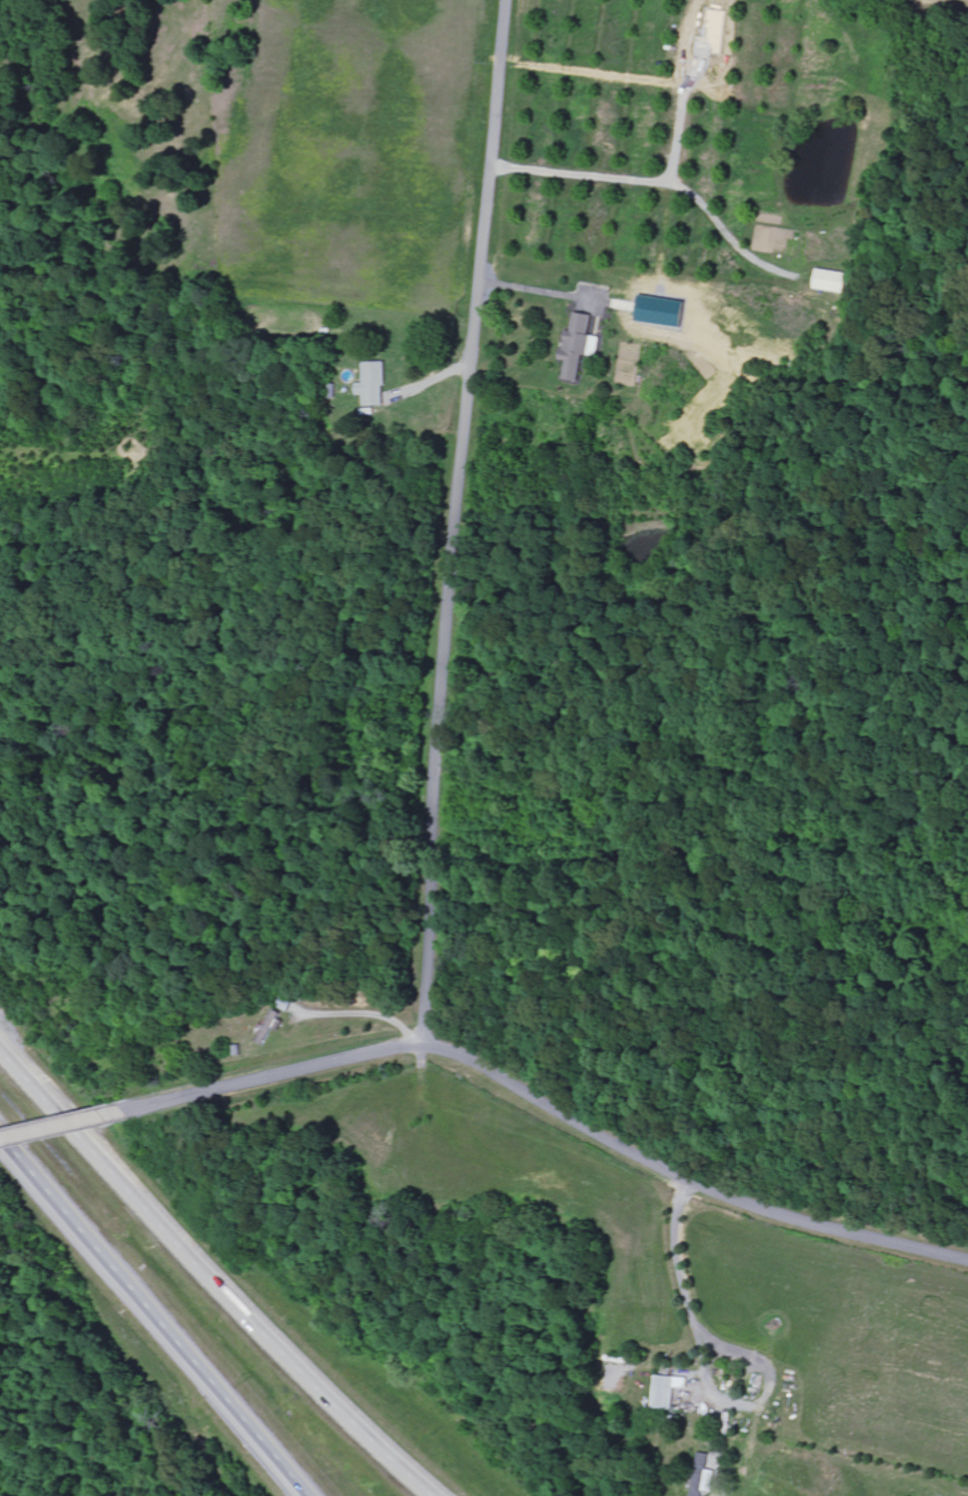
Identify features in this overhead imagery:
building: (832, 281)
building: (662, 312)
building: (580, 346)
building: (375, 385)
road: (457, 523)
building: (272, 1026)
road: (549, 1108)
road: (62, 1127)
road: (212, 1283)
road: (156, 1318)
building: (669, 1390)
building: (703, 1472)

